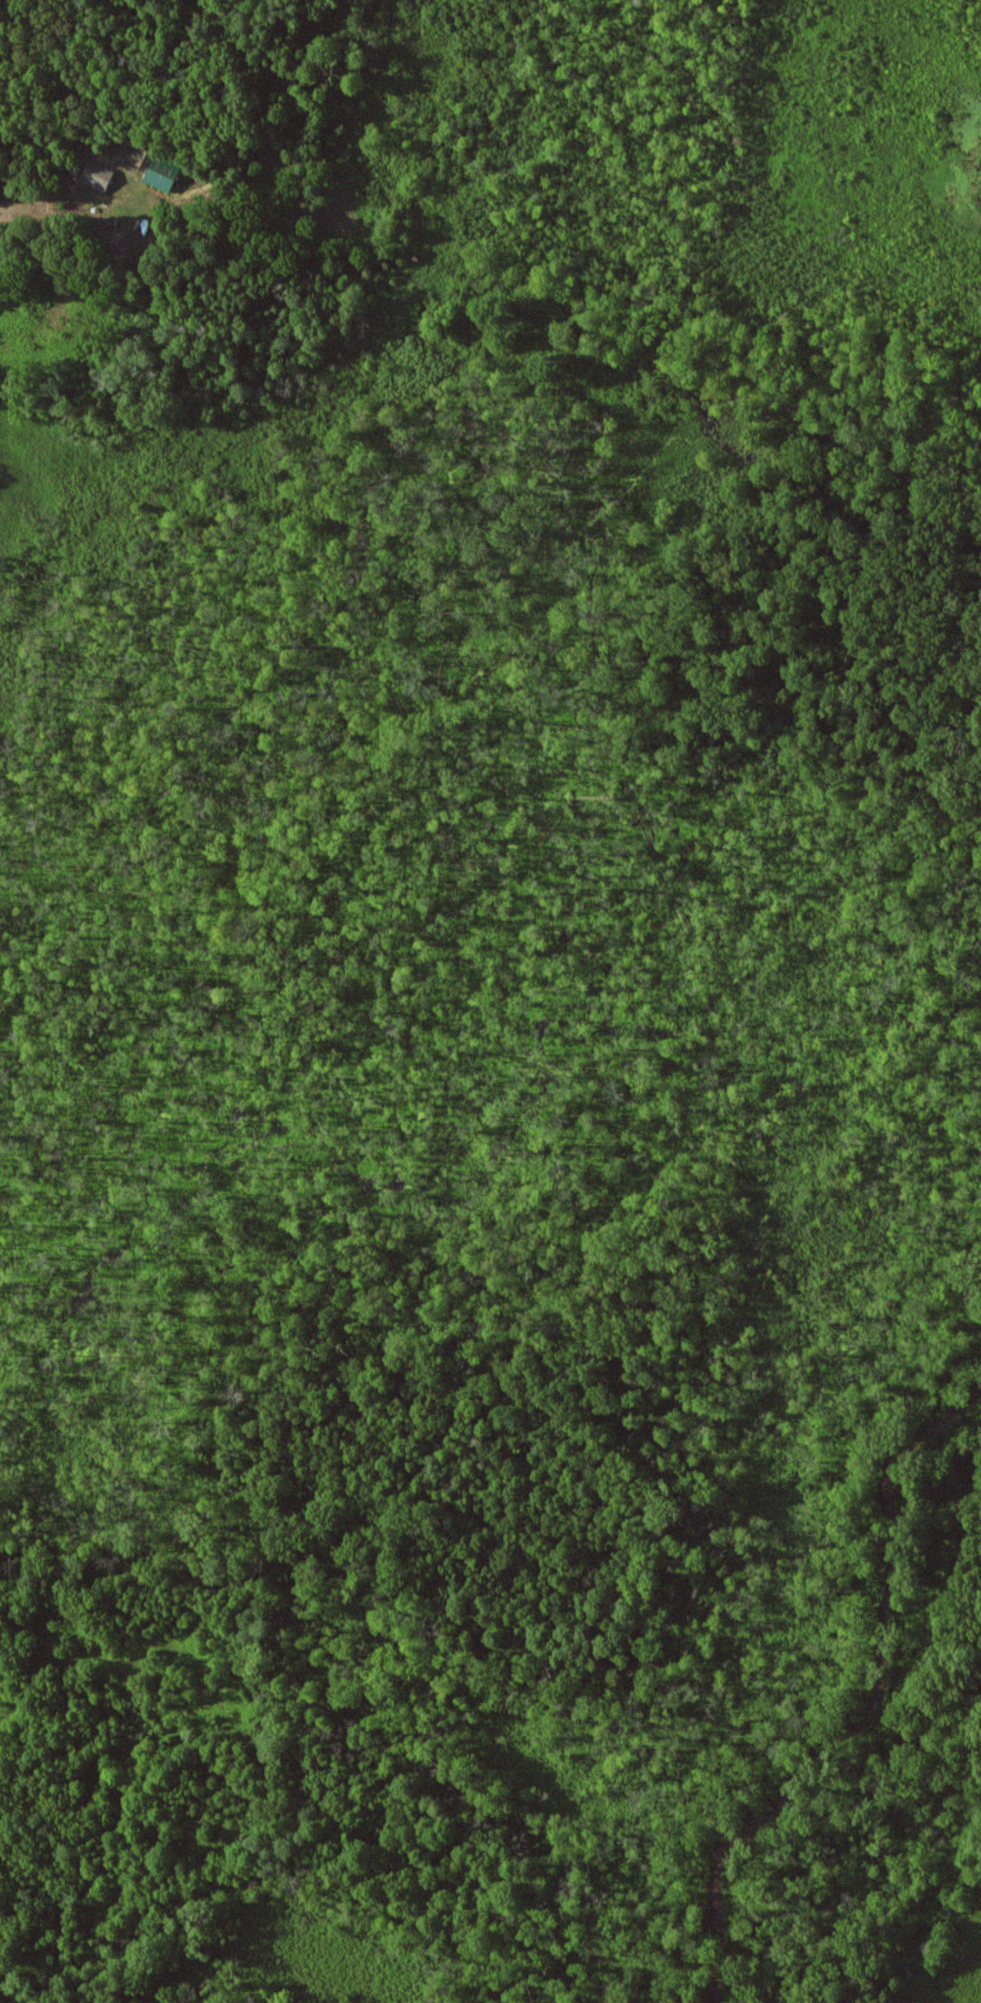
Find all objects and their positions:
building: (163, 173)
building: (97, 175)

